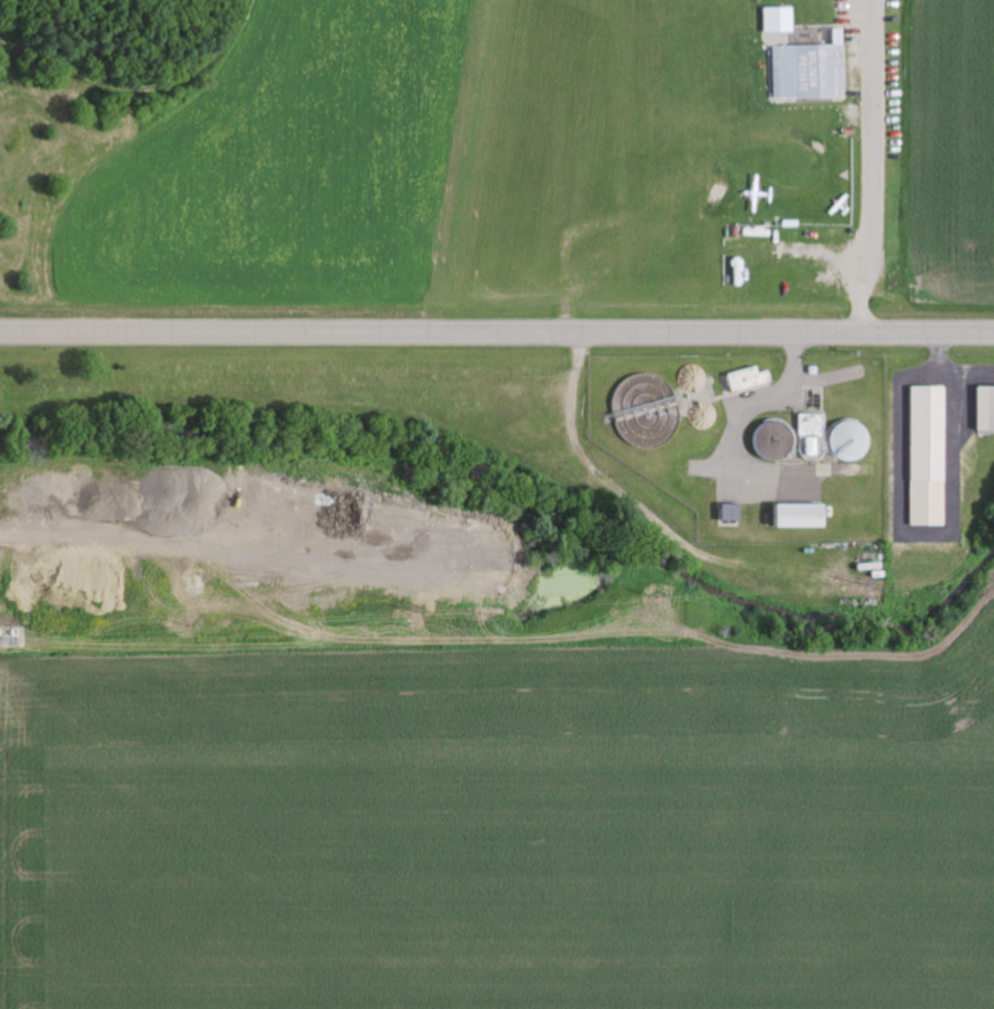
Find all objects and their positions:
building: (810, 72)
airport runway: (537, 103)
road: (874, 170)
road: (497, 330)
building: (748, 379)
building: (986, 408)
building: (811, 434)
building: (774, 440)
building: (928, 456)
building: (731, 512)
building: (802, 515)
crop: (501, 829)

